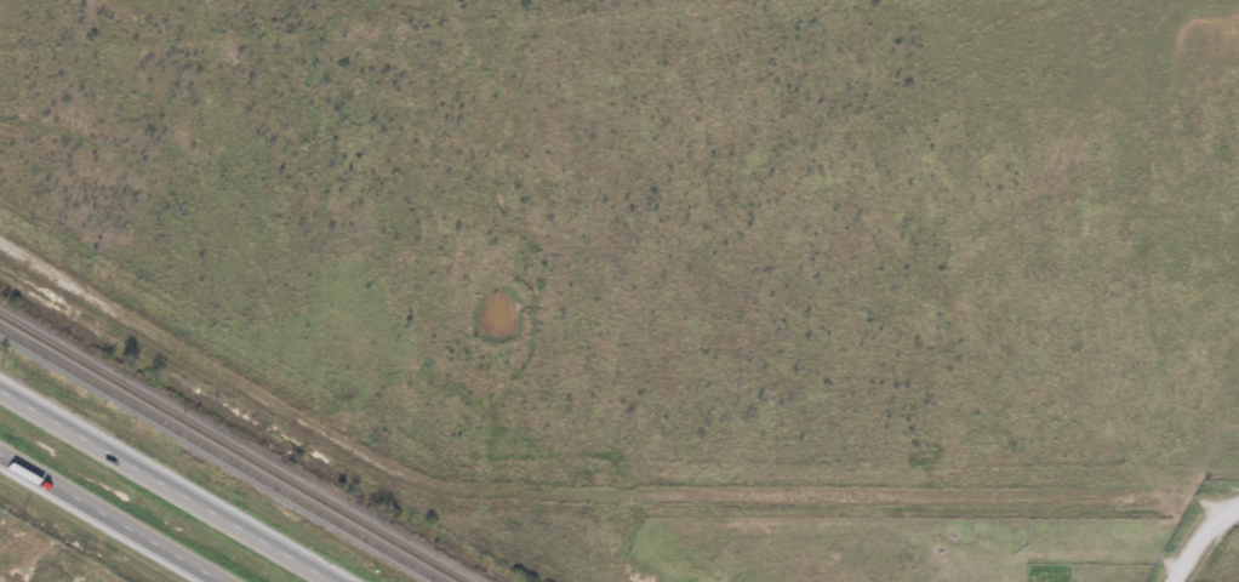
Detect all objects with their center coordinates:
railway: (232, 449)
railway: (218, 455)
road: (161, 487)
road: (110, 518)
road: (1203, 541)

